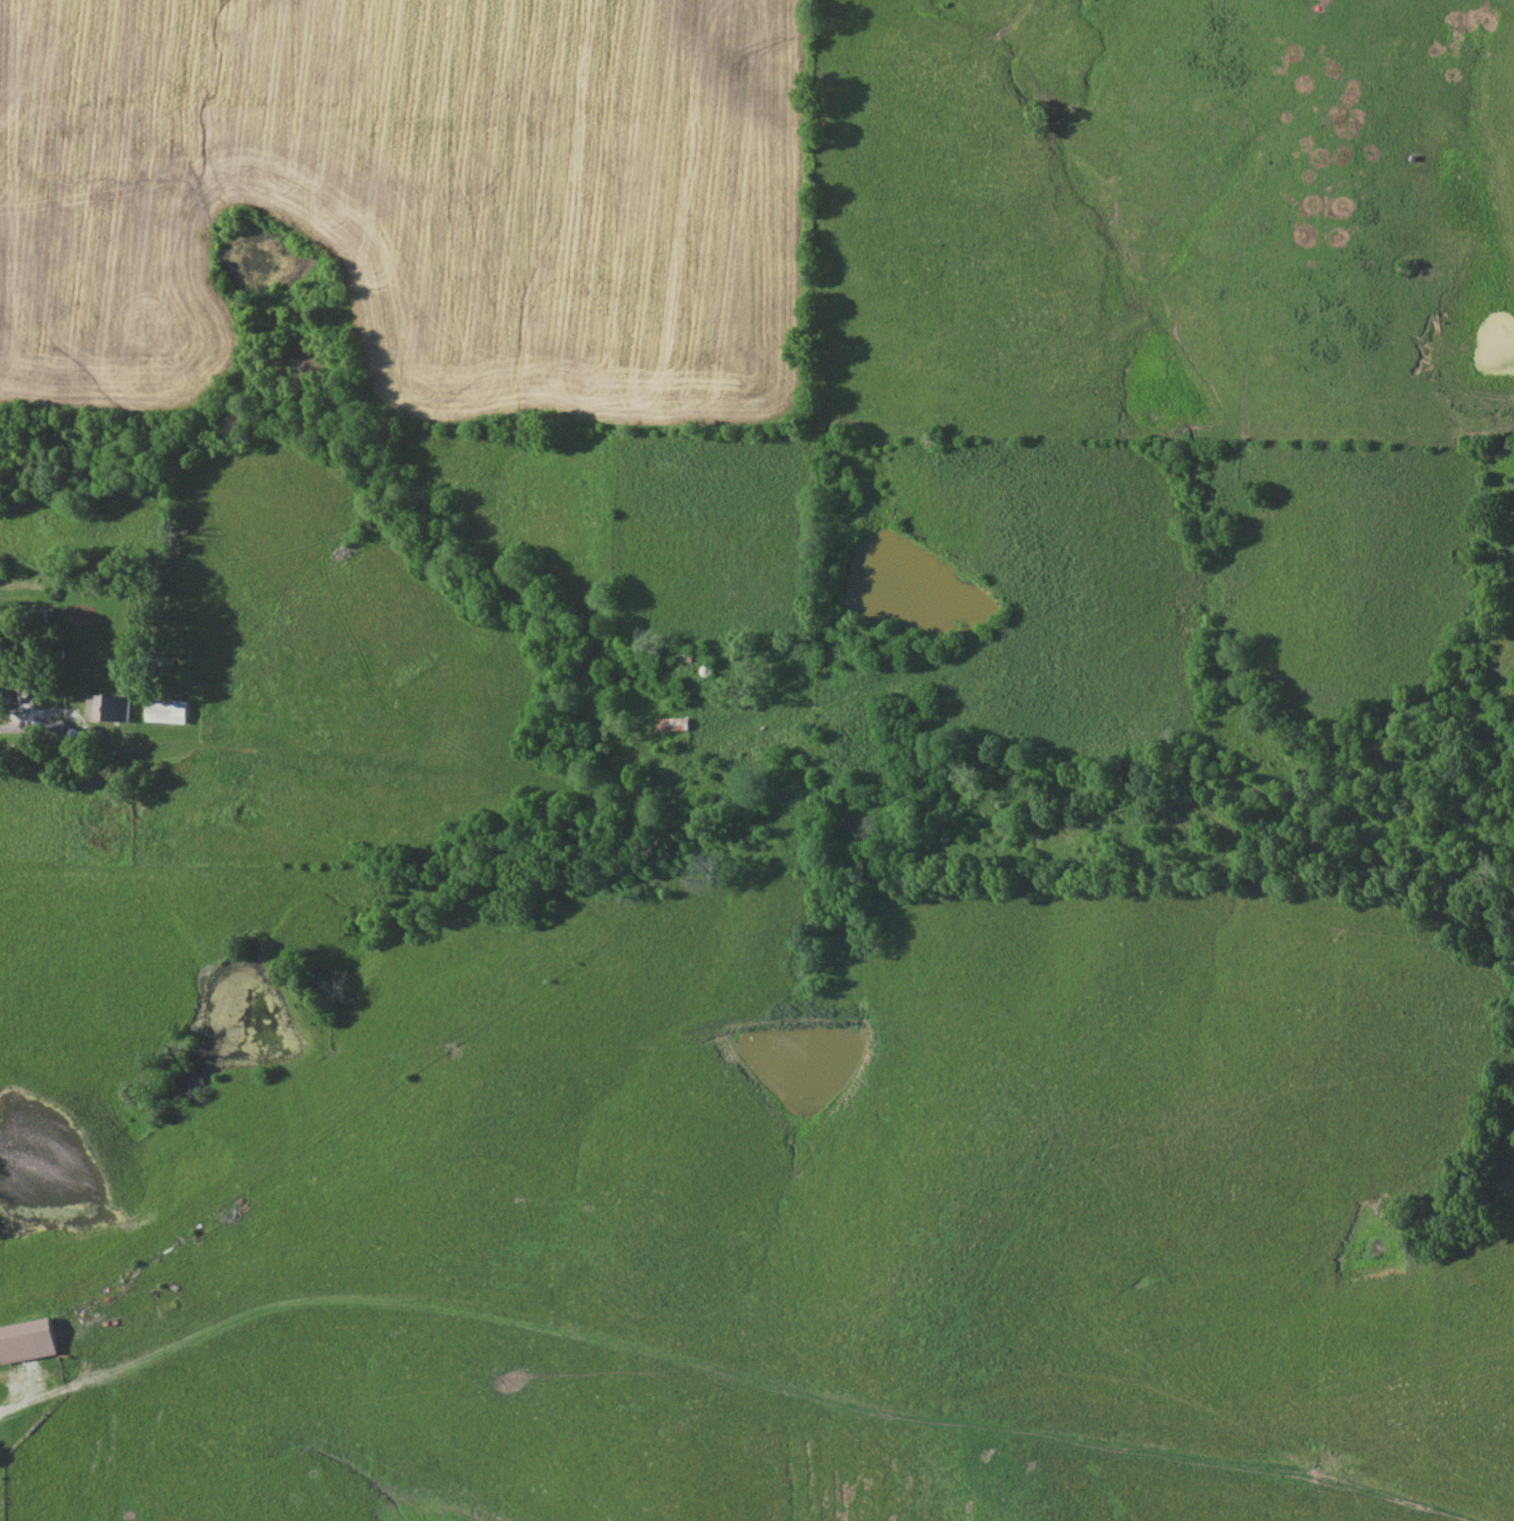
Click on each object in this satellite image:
building: (15, 690)
building: (108, 707)
building: (168, 713)
road: (28, 715)
building: (55, 729)
building: (27, 1340)
road: (18, 1402)

